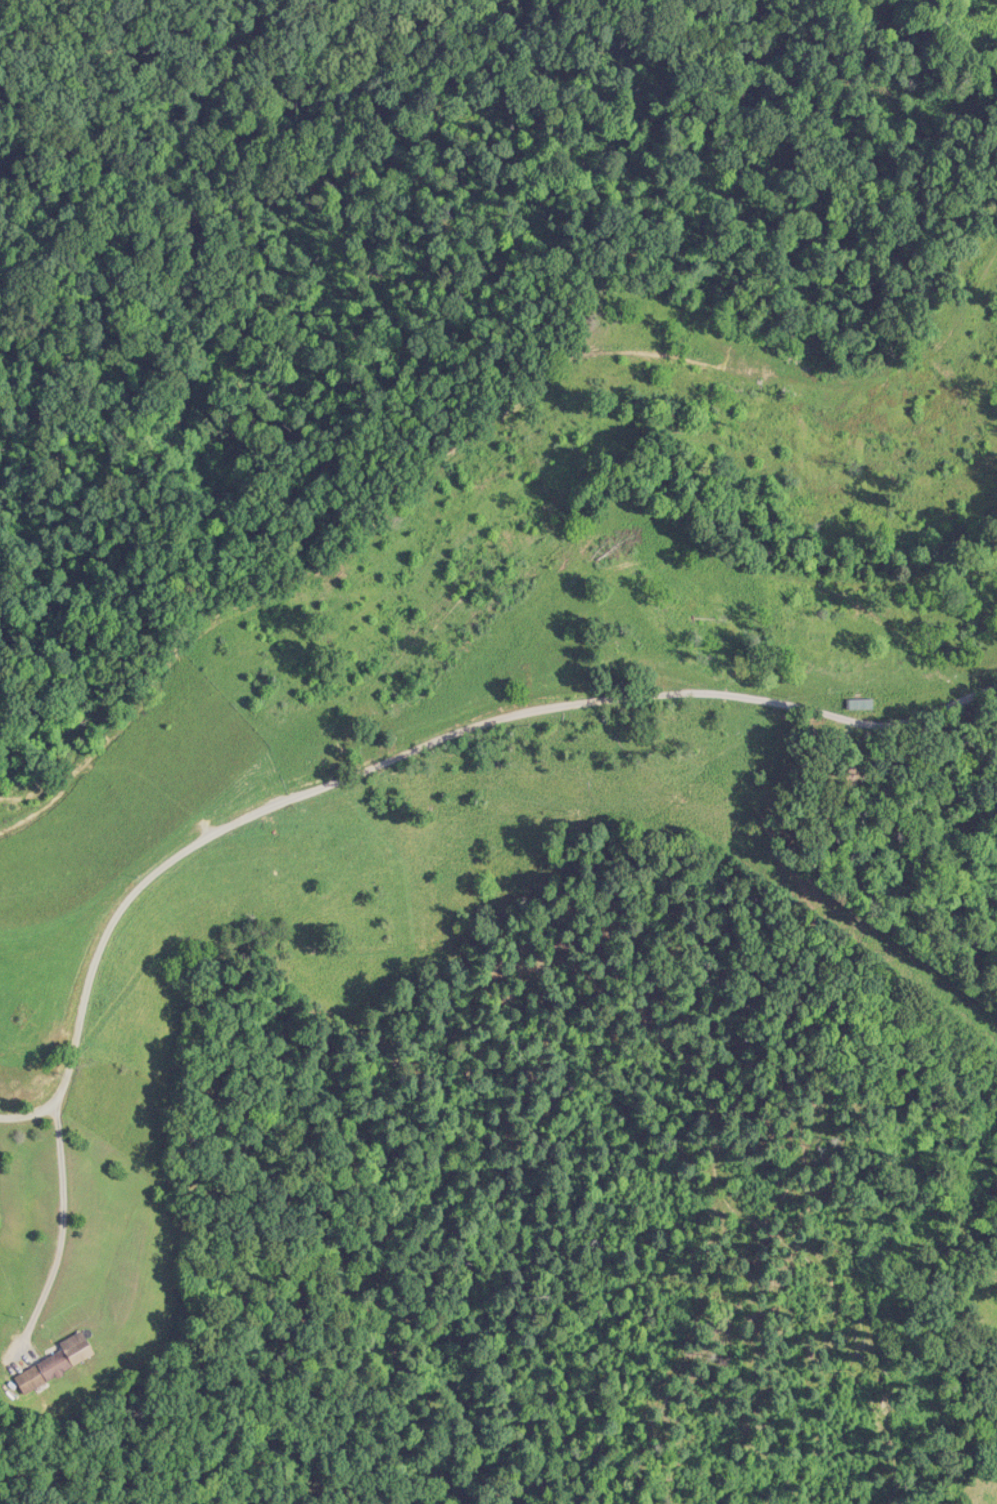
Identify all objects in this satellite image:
building: (861, 701)
road: (424, 734)
building: (58, 1360)

